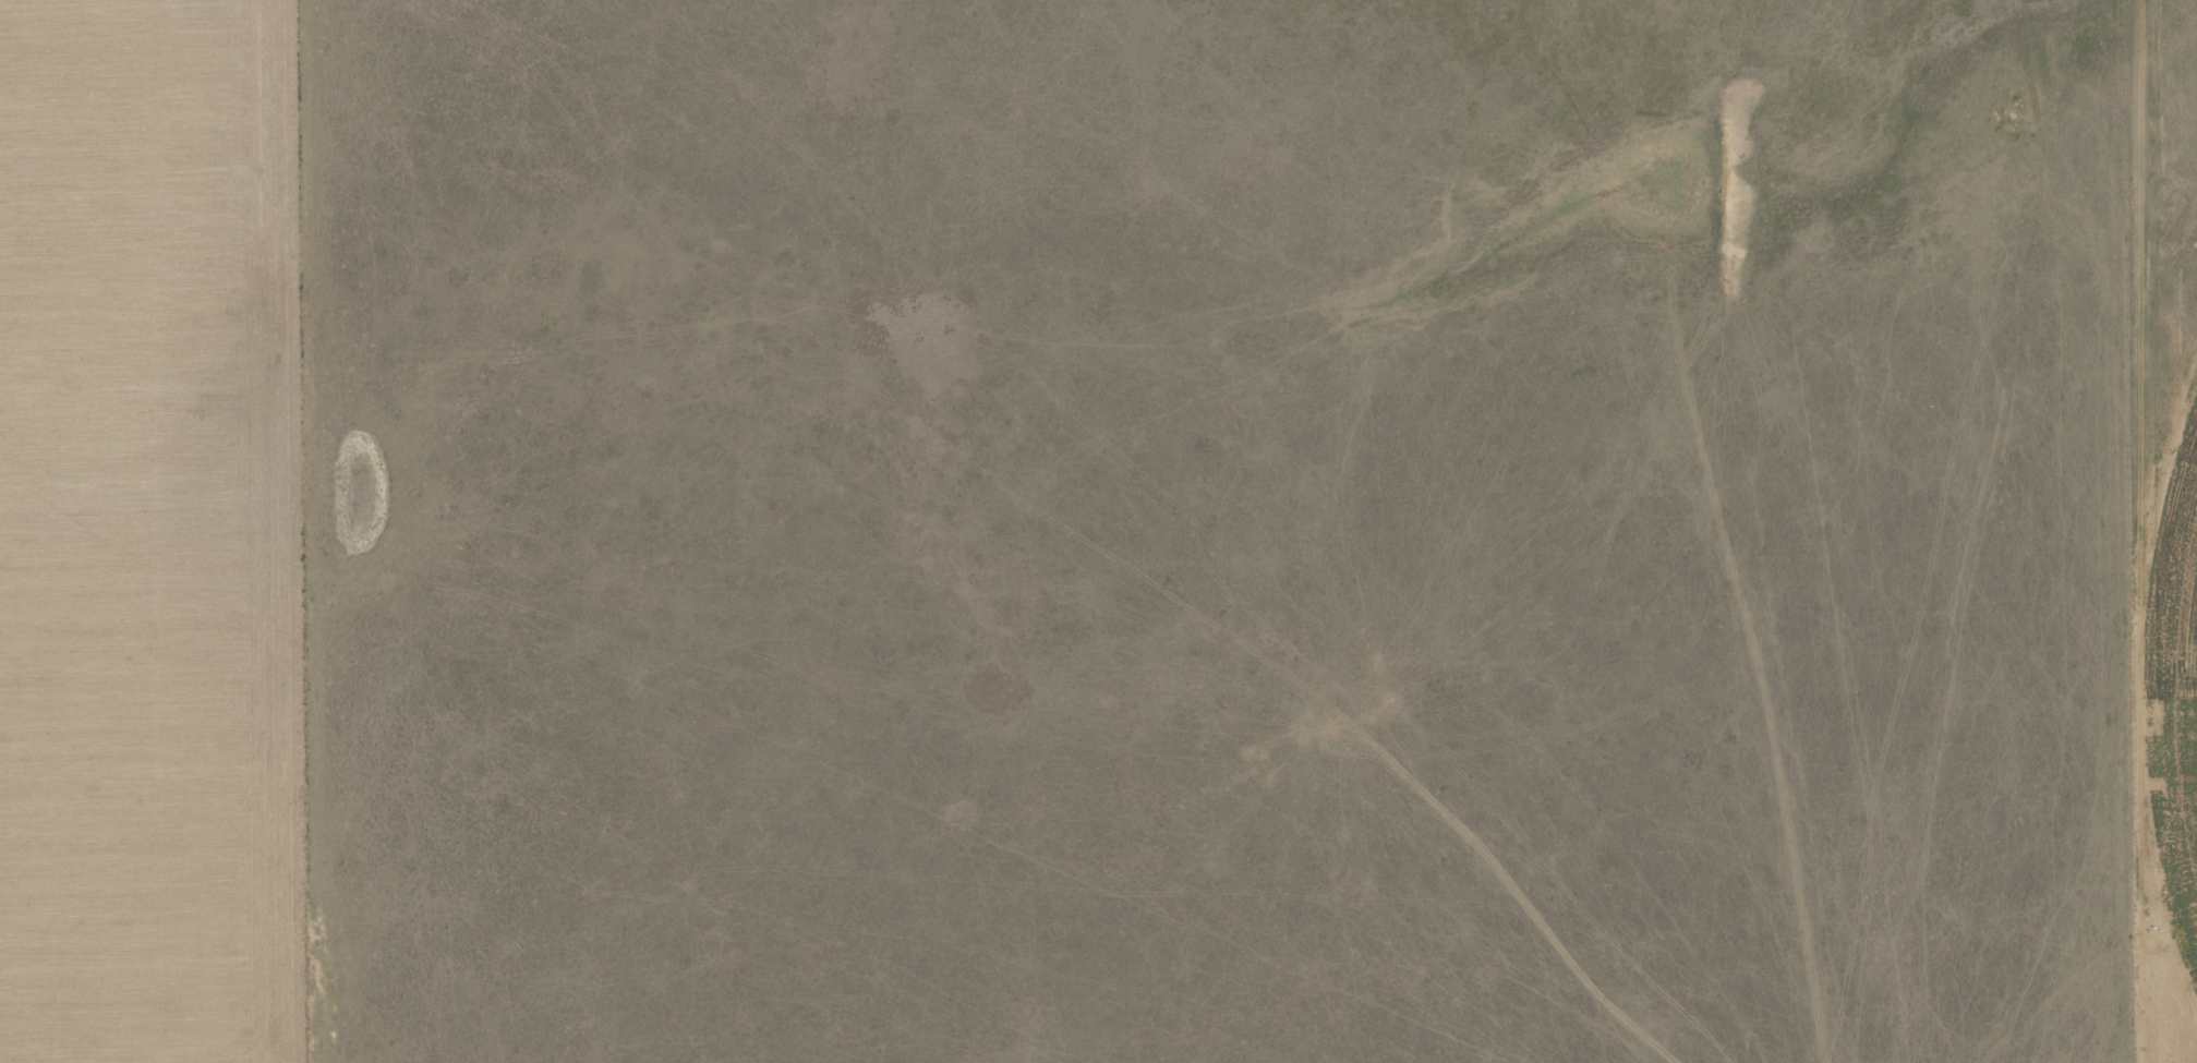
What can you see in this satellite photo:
road: (2008, 531)

